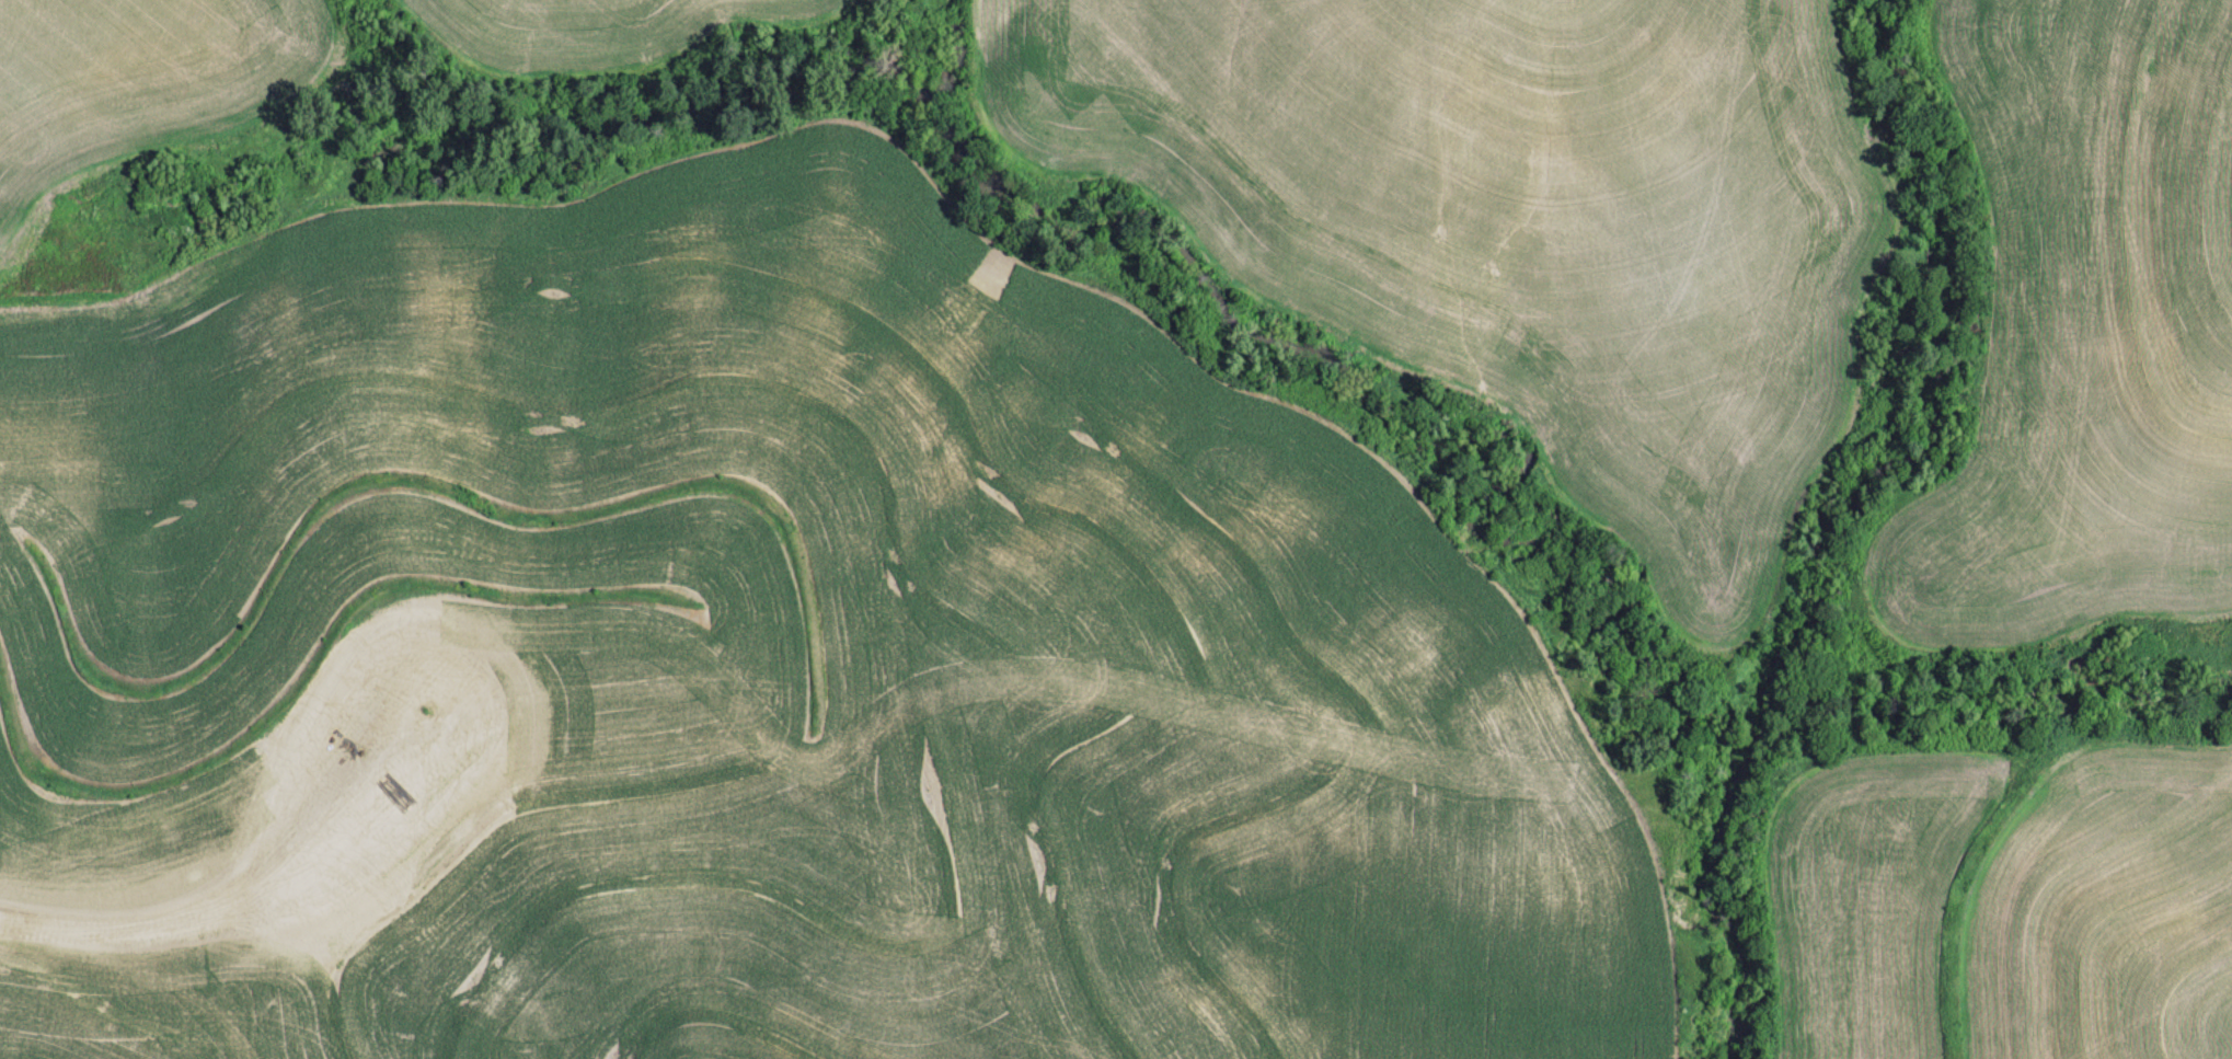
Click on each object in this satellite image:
wind turbine: (416, 700)

